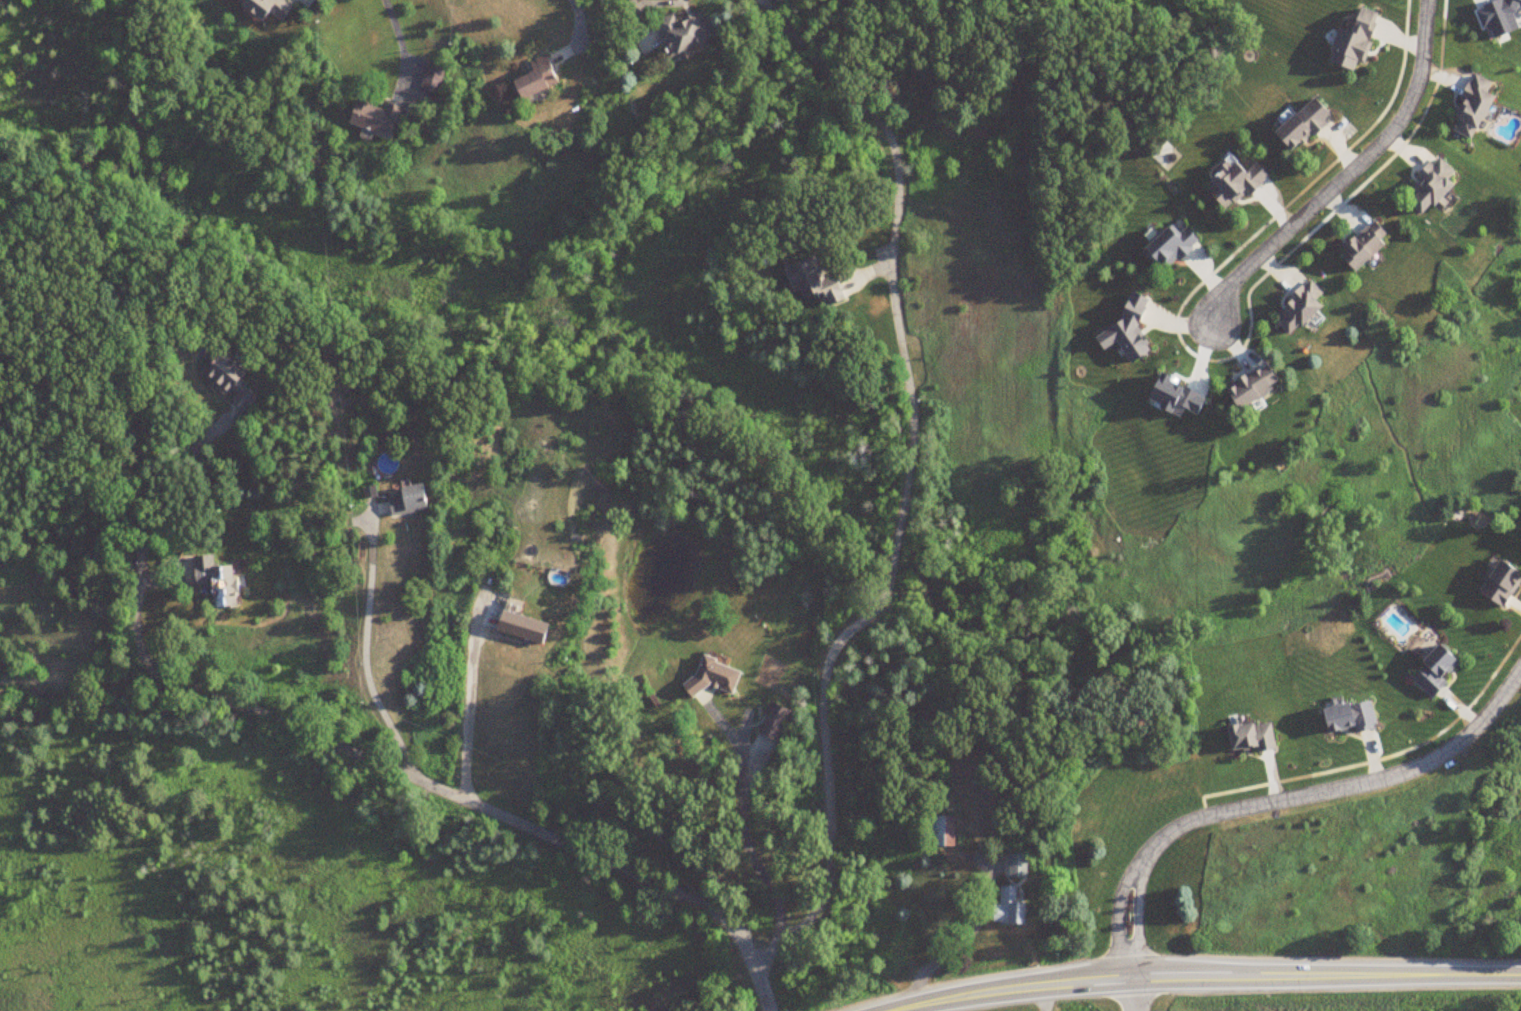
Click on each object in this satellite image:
road: (660, 5)
building: (265, 8)
building: (683, 31)
building: (1353, 40)
road: (400, 41)
building: (432, 77)
building: (535, 78)
building: (1471, 107)
building: (374, 116)
building: (1302, 124)
road: (1345, 176)
building: (1233, 182)
building: (1432, 184)
building: (1169, 245)
building: (1362, 246)
building: (814, 282)
building: (1297, 308)
road: (131, 346)
building: (228, 379)
building: (1251, 387)
building: (407, 500)
road: (903, 506)
building: (216, 580)
building: (1500, 583)
building: (520, 627)
road: (365, 647)
building: (1433, 671)
building: (710, 677)
road: (467, 705)
building: (1348, 717)
building: (774, 723)
building: (1250, 737)
road: (1337, 790)
road: (471, 805)
building: (940, 831)
road: (747, 833)
building: (1016, 865)
building: (1007, 908)
road: (1117, 924)
road: (1137, 925)
road: (957, 946)
road: (1205, 974)
road: (1129, 993)
road: (1044, 997)
park: (1330, 1003)

